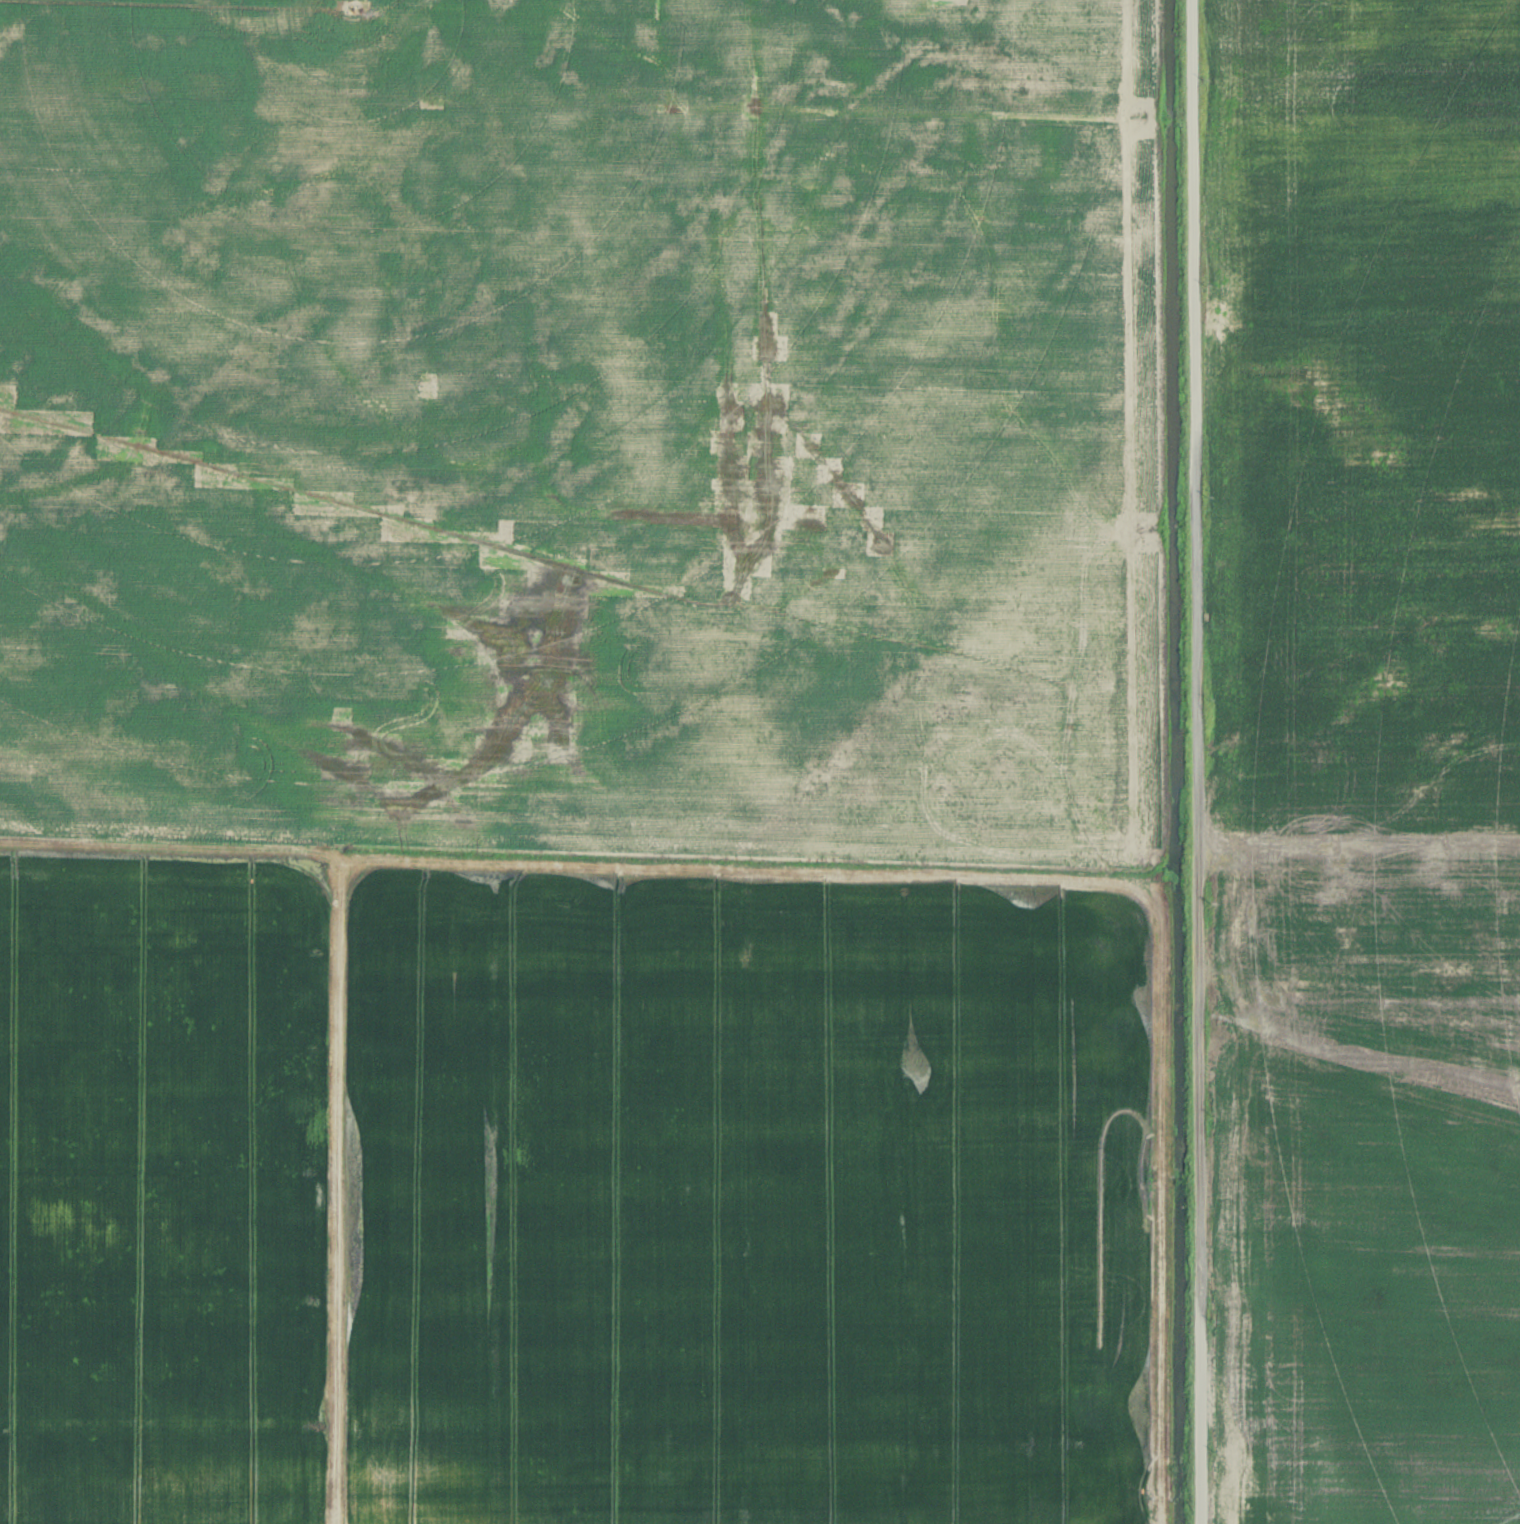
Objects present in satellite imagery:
road: (1202, 762)

